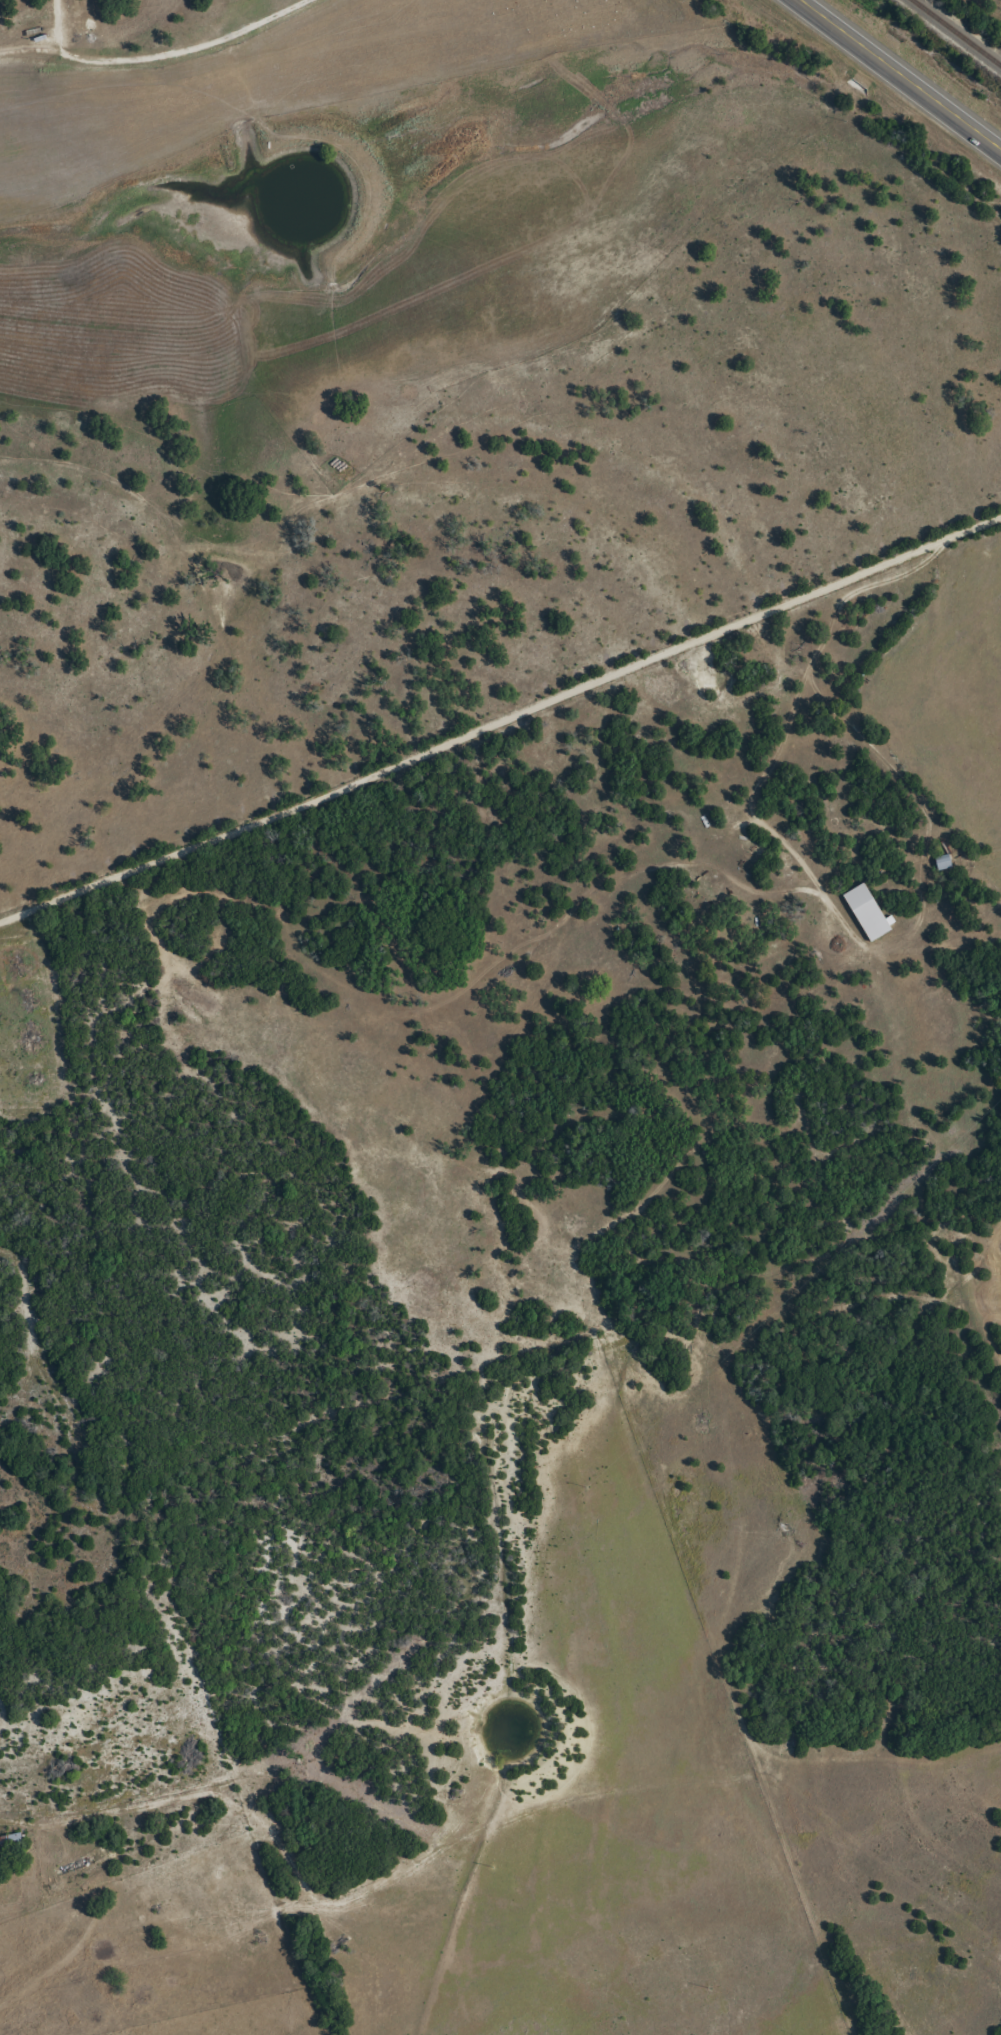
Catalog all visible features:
railway: (955, 33)
road: (904, 71)
road: (500, 725)
building: (943, 862)
building: (10, 1841)

